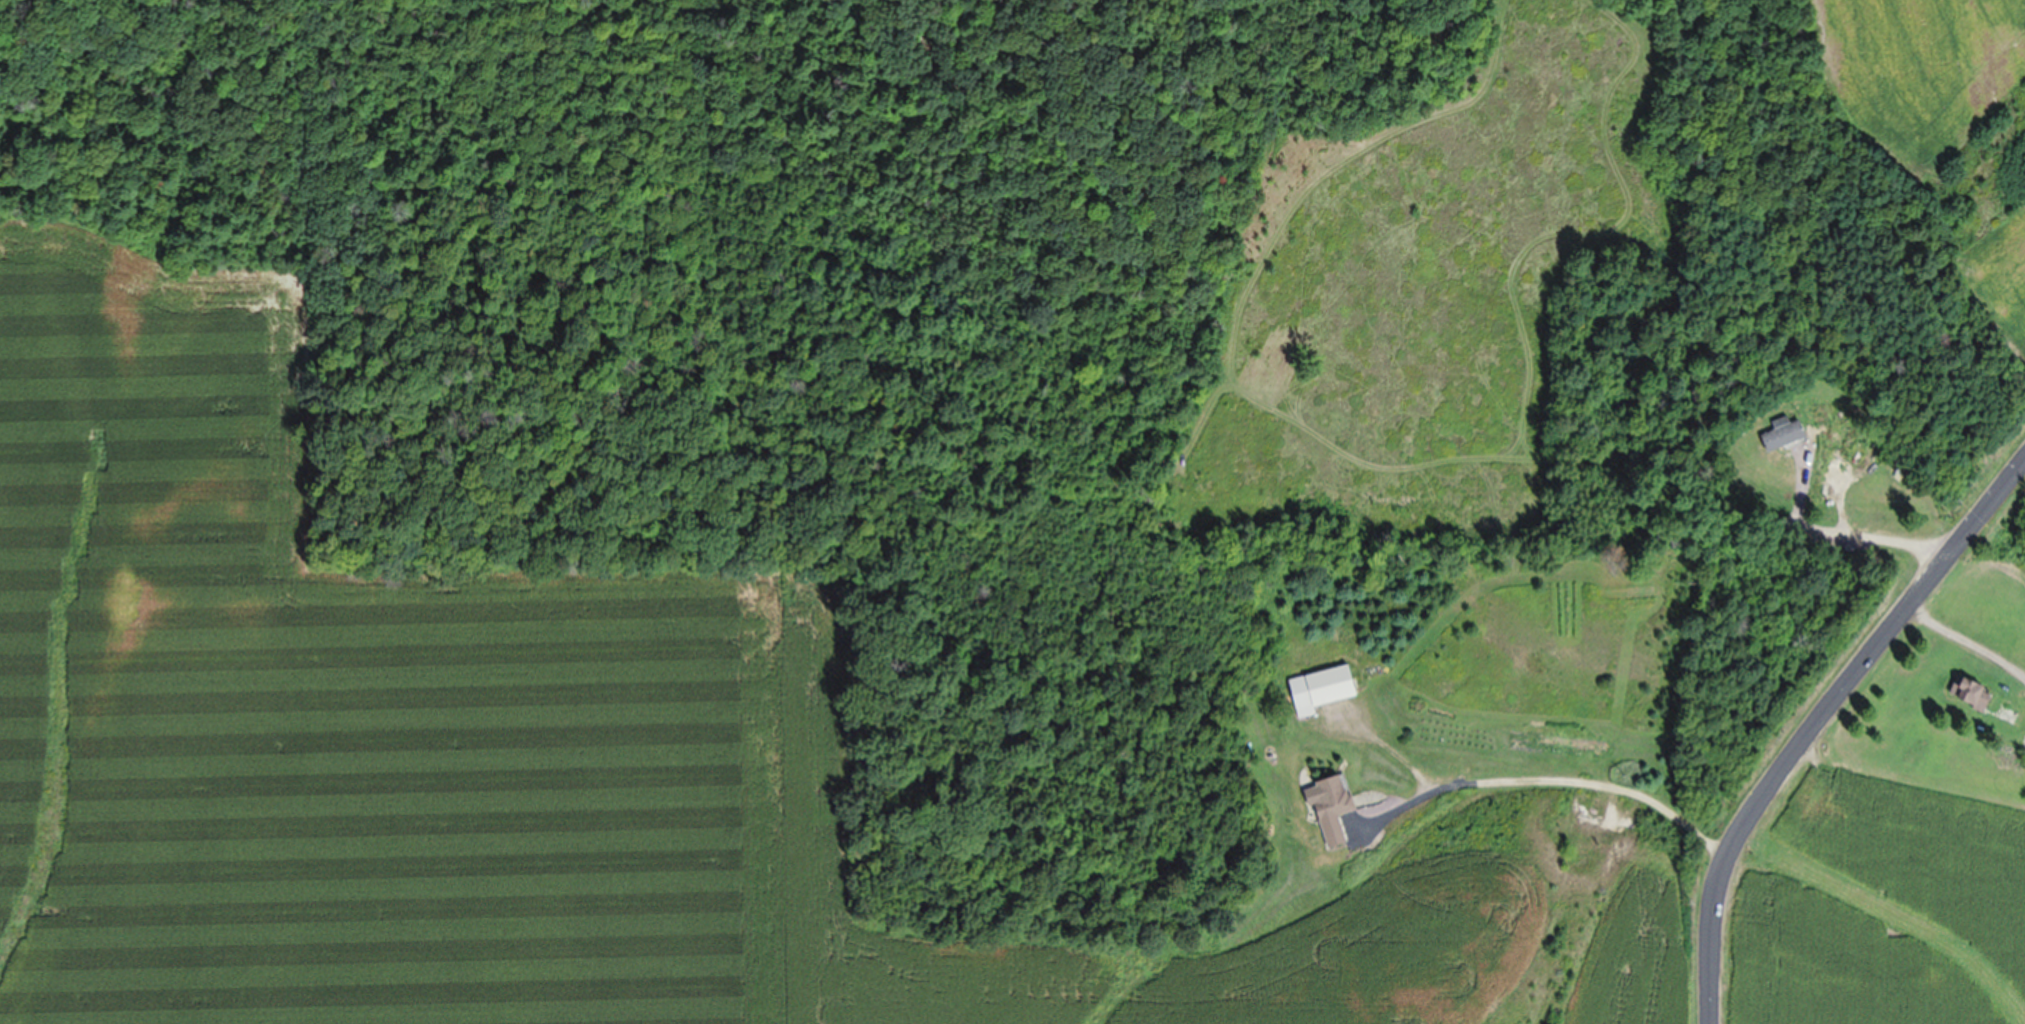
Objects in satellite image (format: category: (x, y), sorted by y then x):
building: (1780, 438)
road: (1762, 516)
road: (1967, 639)
building: (1319, 693)
building: (1971, 700)
road: (1818, 721)
road: (1543, 785)
building: (1330, 810)

